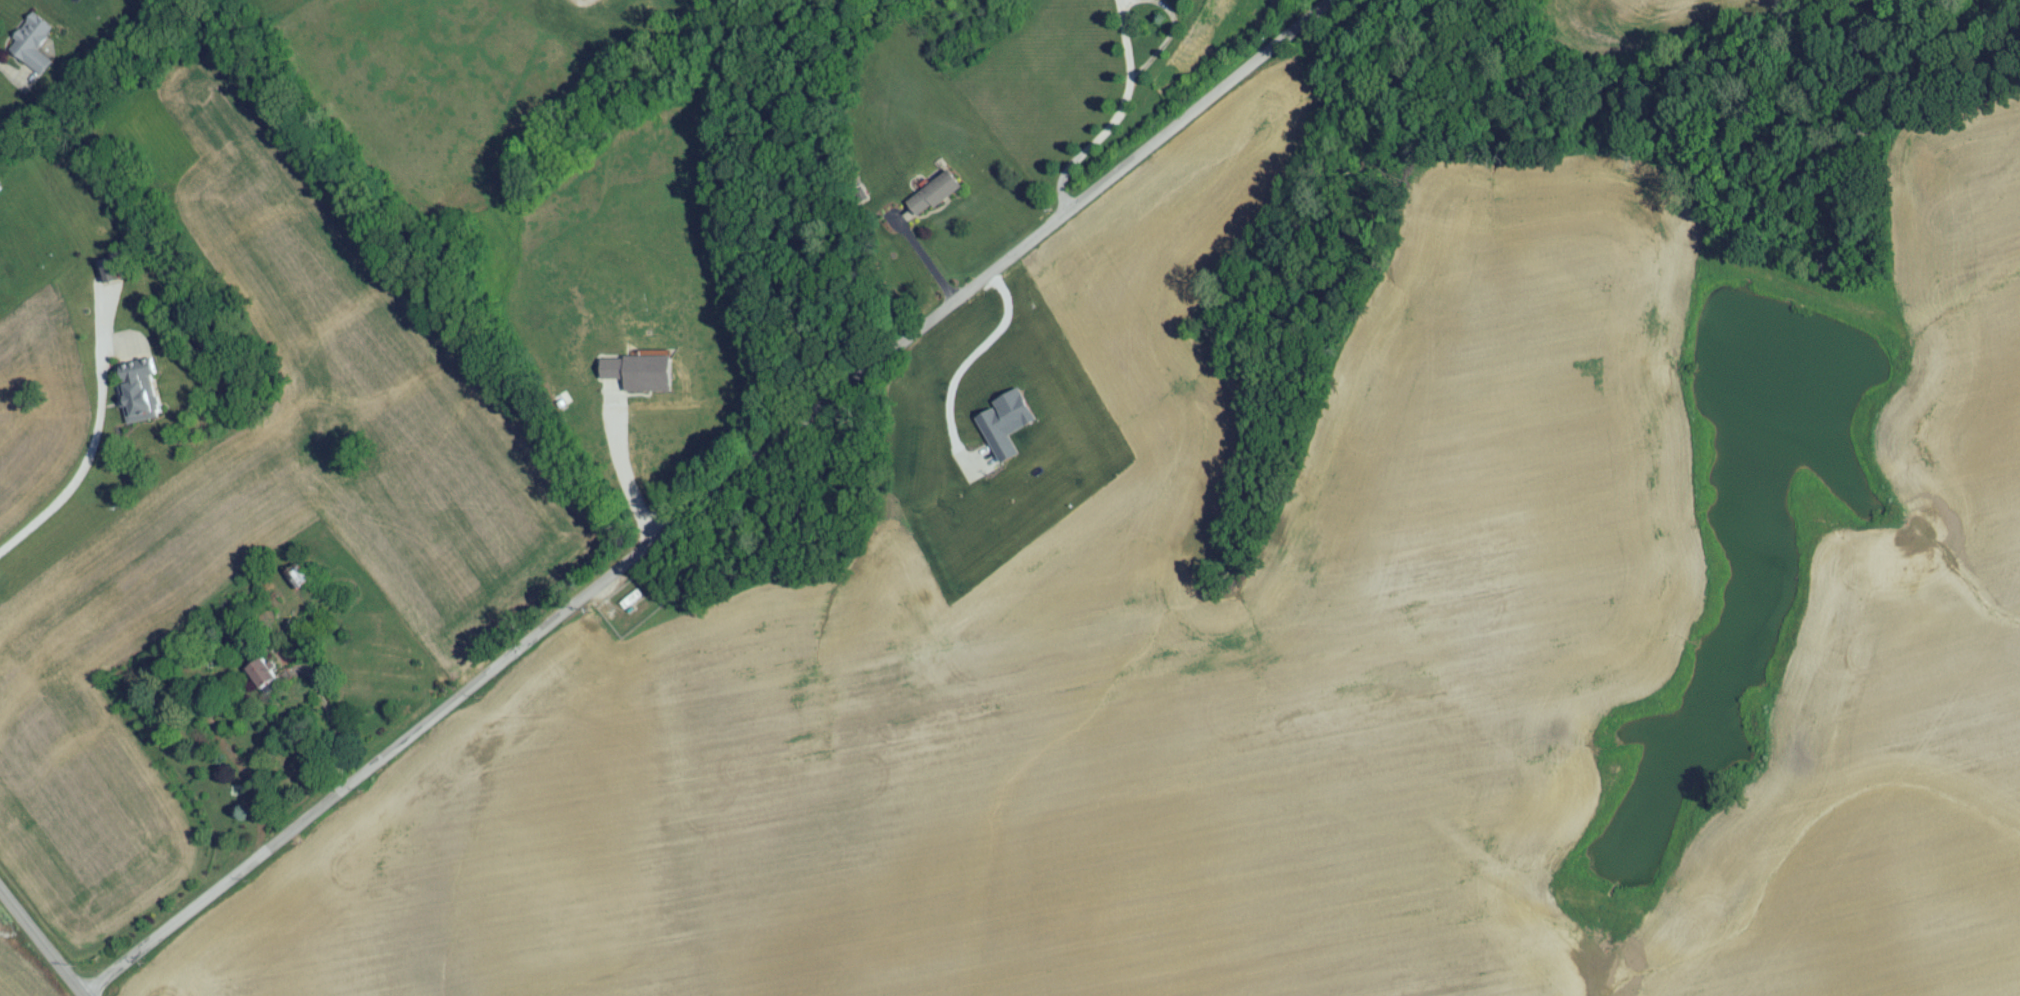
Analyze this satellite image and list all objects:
building: (31, 50)
road: (1129, 52)
building: (933, 200)
road: (966, 365)
building: (138, 401)
road: (89, 454)
road: (625, 478)
road: (705, 499)
building: (296, 583)
building: (263, 680)
road: (329, 723)
road: (40, 945)

